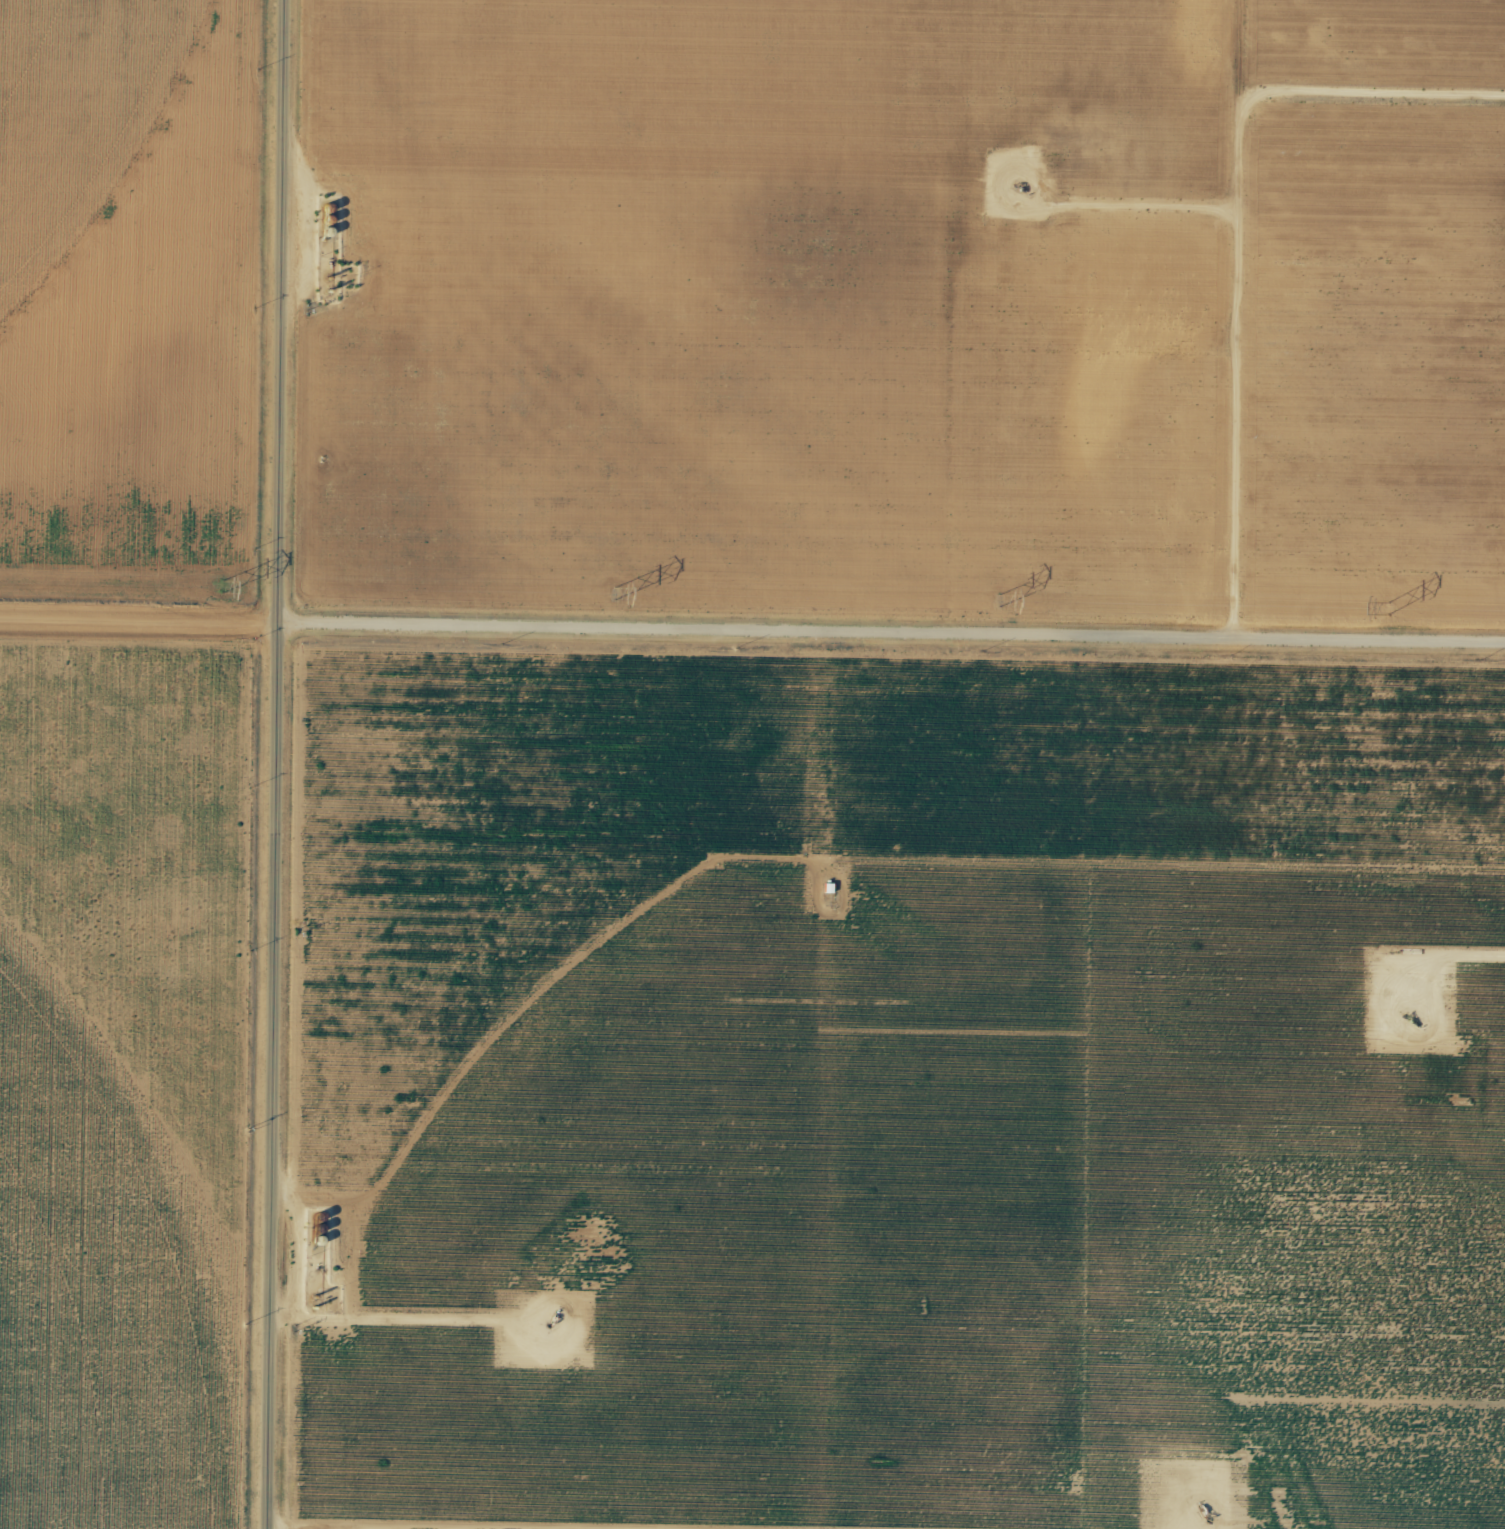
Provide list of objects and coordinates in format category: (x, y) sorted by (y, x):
power tower: (222, 584)
power tower: (614, 591)
power tower: (997, 598)
power tower: (1387, 605)
road: (752, 648)
road: (275, 764)
road: (819, 1121)

